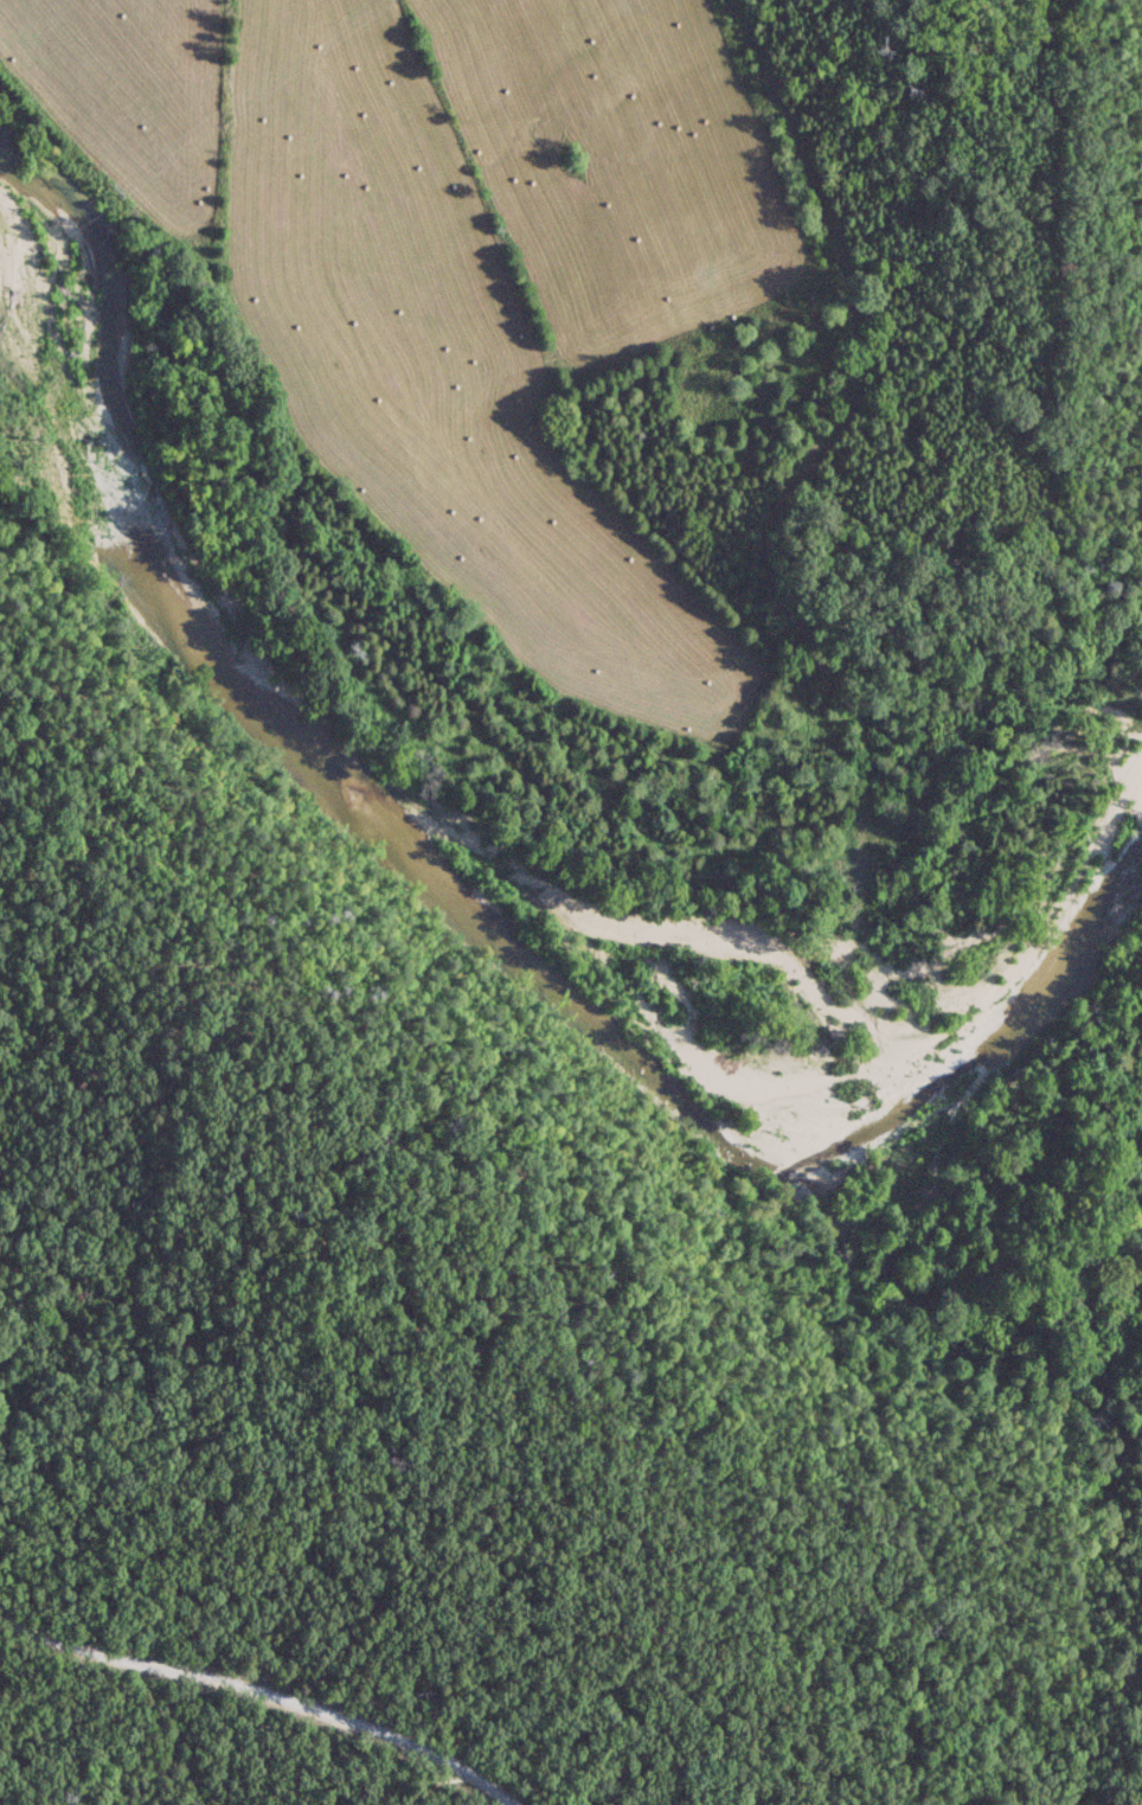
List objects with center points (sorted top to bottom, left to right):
road: (203, 1720)

